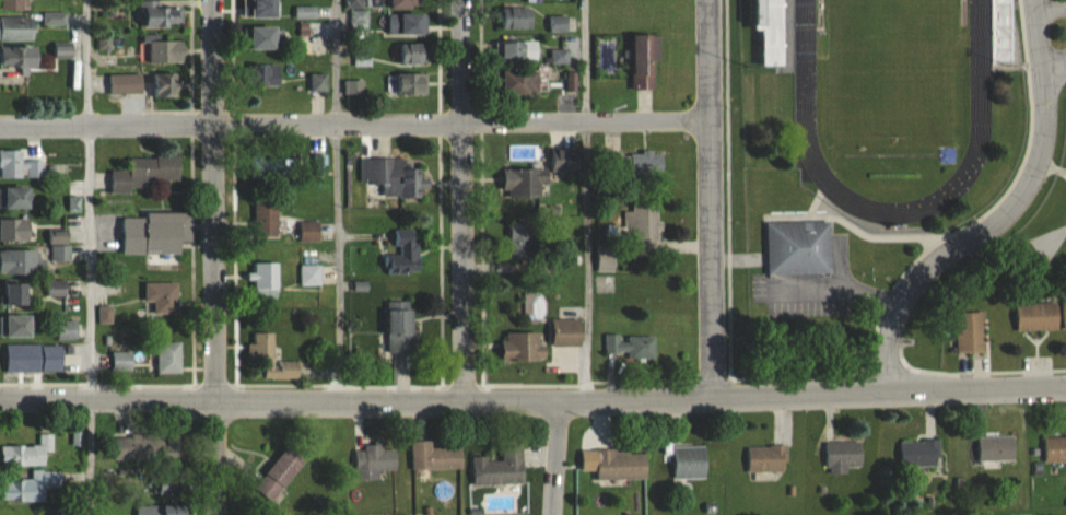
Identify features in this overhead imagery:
building: (406, 3)
building: (16, 4)
building: (265, 7)
road: (1051, 10)
building: (306, 12)
building: (162, 16)
building: (55, 19)
building: (518, 19)
building: (407, 24)
building: (19, 28)
building: (267, 37)
building: (65, 49)
building: (163, 49)
building: (515, 50)
building: (774, 50)
building: (411, 55)
building: (21, 59)
track: (980, 60)
building: (646, 62)
road: (1054, 63)
park: (891, 68)
park: (891, 68)
building: (266, 74)
building: (319, 82)
building: (522, 82)
building: (411, 83)
building: (166, 85)
road: (355, 126)
building: (642, 164)
building: (19, 165)
building: (144, 173)
building: (397, 178)
building: (524, 184)
building: (20, 198)
road: (464, 199)
road: (713, 199)
road: (336, 200)
road: (586, 200)
road: (1004, 216)
building: (266, 220)
building: (647, 227)
building: (16, 231)
building: (309, 232)
building: (155, 233)
building: (59, 236)
building: (523, 242)
building: (799, 248)
building: (61, 253)
building: (406, 254)
road: (91, 257)
road: (215, 257)
building: (23, 261)
building: (309, 276)
building: (267, 279)
building: (57, 288)
building: (19, 294)
building: (162, 296)
building: (1065, 315)
building: (1038, 317)
building: (21, 326)
building: (400, 327)
building: (68, 329)
building: (971, 331)
building: (567, 332)
building: (631, 346)
building: (524, 347)
building: (25, 358)
building: (169, 358)
building: (270, 358)
building: (121, 361)
road: (532, 400)
building: (140, 447)
building: (995, 449)
building: (1055, 449)
building: (27, 453)
building: (919, 454)
building: (434, 457)
building: (843, 457)
road: (555, 458)
building: (768, 459)
building: (374, 463)
building: (689, 463)
building: (621, 465)
building: (500, 469)
building: (280, 475)
building: (23, 490)
building: (161, 510)

